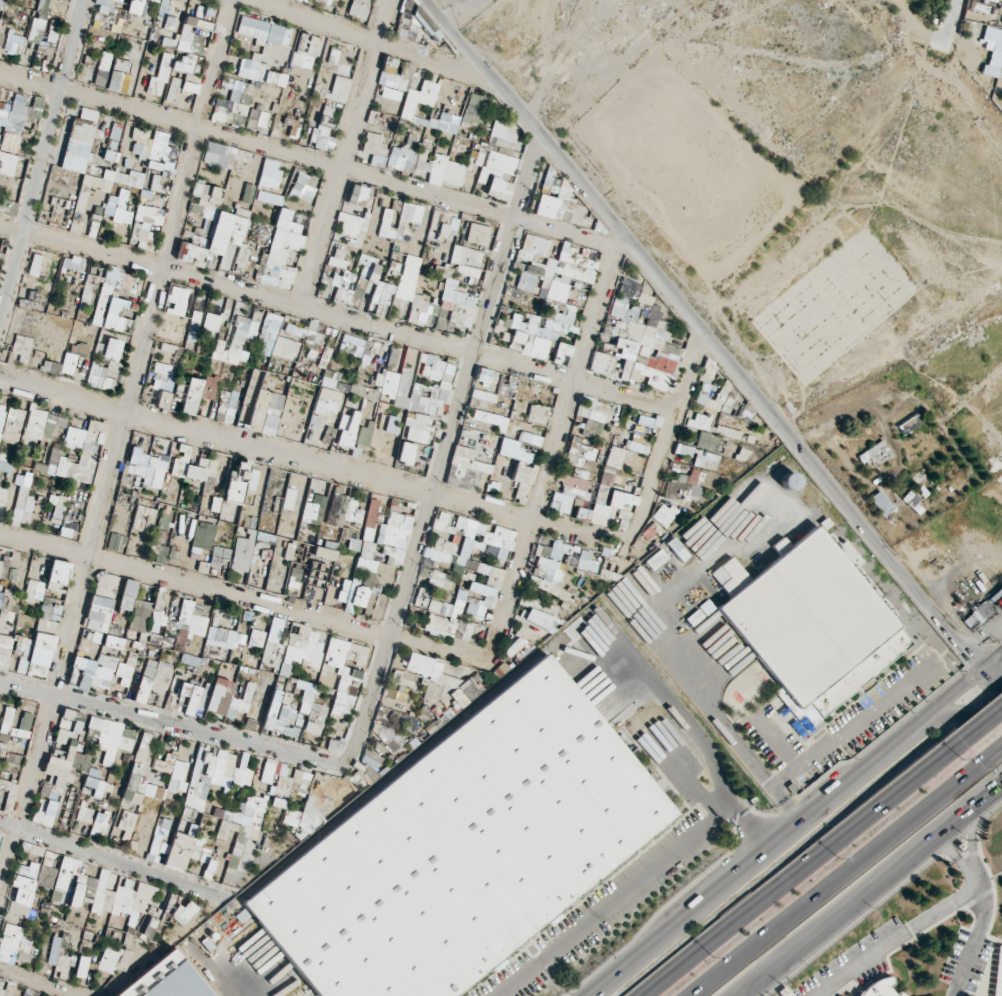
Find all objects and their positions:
park: (681, 154)

